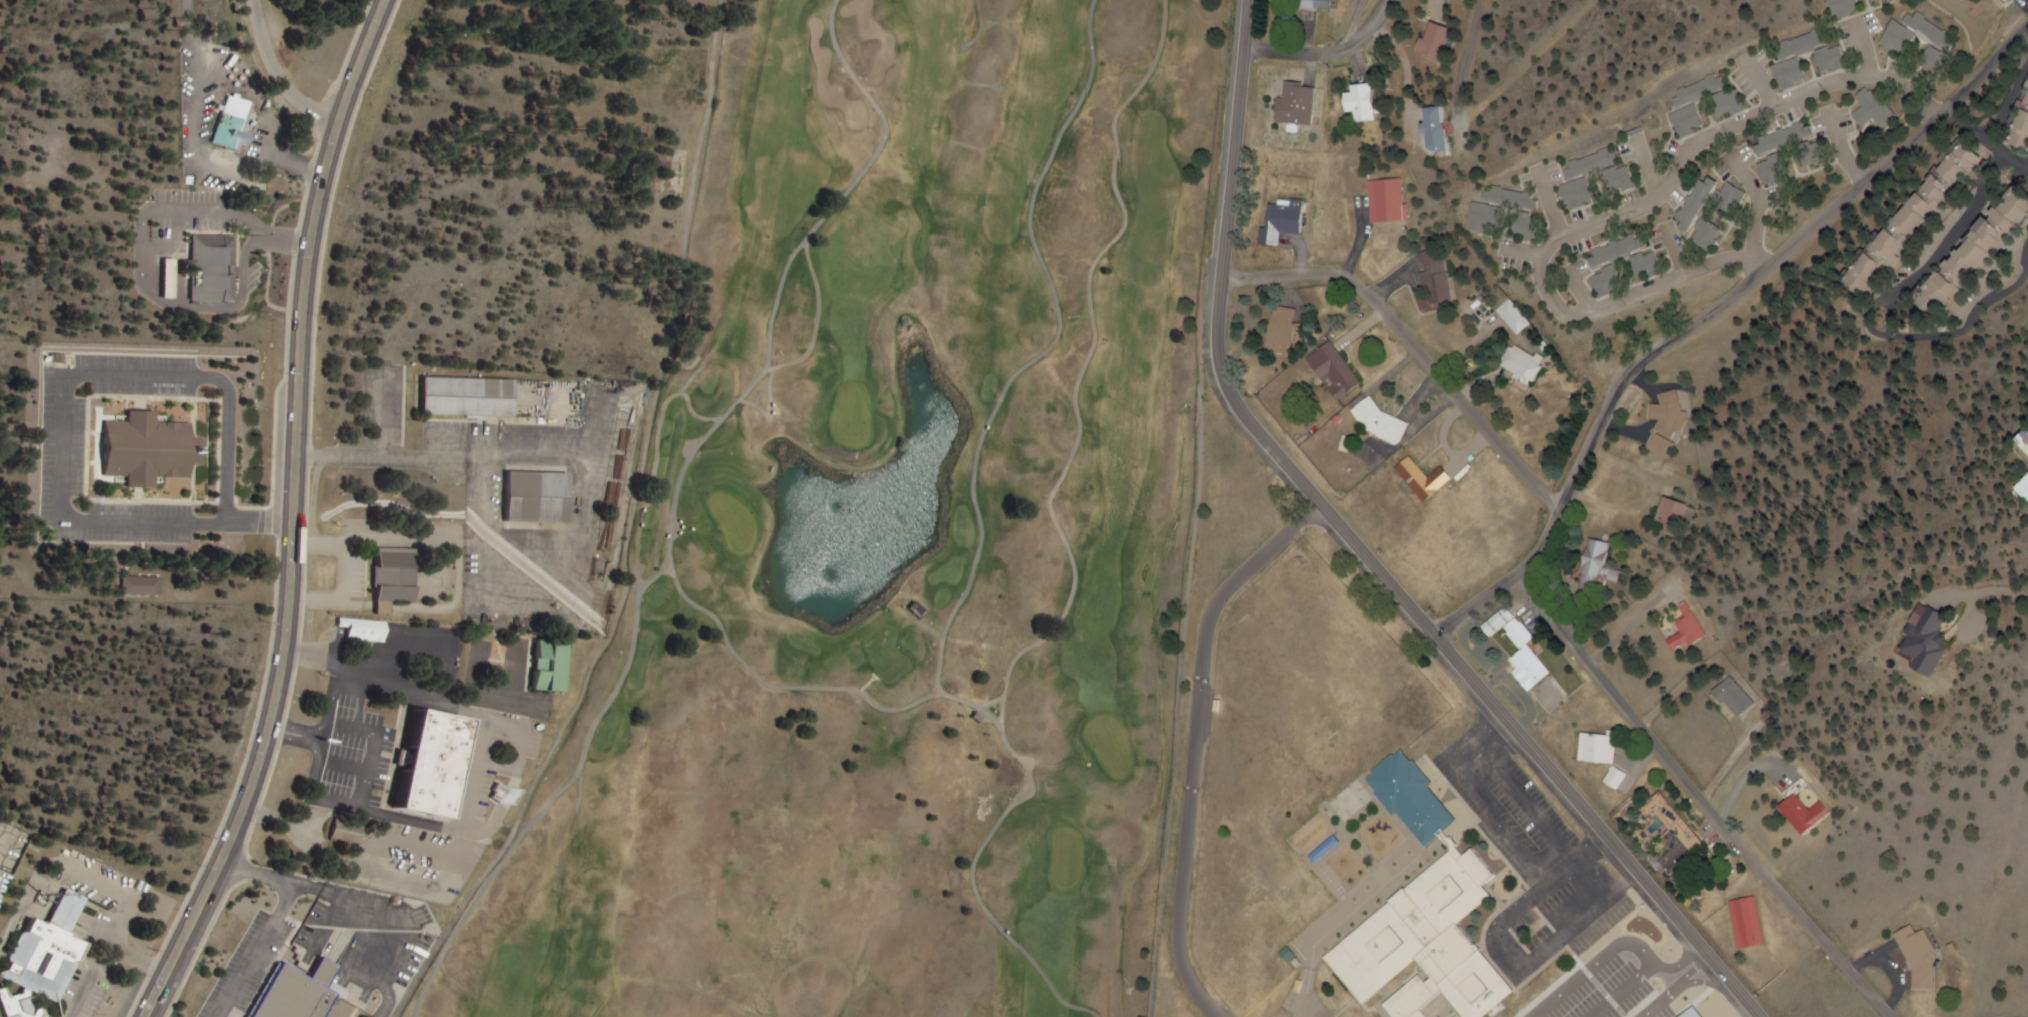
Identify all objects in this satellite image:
building: (2012, 0)
building: (1884, 1)
building: (1310, 4)
building: (1845, 7)
building: (1931, 30)
building: (1901, 38)
building: (1437, 40)
building: (1804, 43)
road: (1865, 47)
road: (1327, 51)
building: (1833, 59)
building: (1937, 63)
road: (1460, 69)
road: (278, 73)
building: (1792, 73)
road: (1759, 81)
road: (2009, 102)
building: (1298, 103)
building: (1363, 103)
building: (1694, 103)
building: (1729, 104)
building: (1877, 110)
building: (2019, 122)
building: (1440, 129)
building: (240, 135)
building: (1789, 139)
road: (1983, 139)
road: (1838, 147)
building: (1817, 154)
building: (1591, 163)
road: (1648, 168)
building: (1777, 169)
building: (1623, 179)
road: (851, 186)
building: (1581, 193)
building: (1514, 198)
building: (1734, 198)
building: (1387, 201)
road: (1549, 203)
road: (1761, 207)
road: (1632, 214)
building: (1489, 217)
building: (1907, 218)
building: (1284, 222)
building: (1533, 226)
building: (1973, 248)
building: (1626, 251)
building: (1654, 266)
building: (216, 267)
building: (1435, 277)
building: (172, 279)
building: (1615, 281)
road: (1873, 312)
road: (1708, 313)
building: (1517, 317)
building: (1289, 330)
road: (1414, 348)
road: (1044, 352)
road: (1220, 356)
building: (1527, 365)
building: (1338, 371)
building: (469, 397)
road: (771, 407)
building: (1662, 422)
building: (2023, 441)
building: (148, 449)
road: (657, 462)
building: (1427, 479)
building: (2021, 489)
building: (537, 497)
road: (1199, 508)
building: (1666, 512)
road: (294, 515)
road: (630, 533)
park: (895, 542)
road: (1067, 542)
building: (1598, 566)
building: (396, 578)
building: (139, 585)
road: (1984, 593)
building: (920, 610)
road: (637, 624)
building: (1678, 629)
building: (366, 631)
building: (1918, 642)
building: (1524, 649)
building: (551, 665)
road: (814, 689)
building: (1727, 697)
road: (988, 703)
road: (1198, 743)
building: (1602, 746)
building: (433, 763)
building: (1620, 776)
building: (508, 791)
road: (1700, 800)
road: (1602, 824)
building: (350, 830)
building: (1687, 845)
road: (1597, 878)
building: (1429, 919)
building: (1752, 922)
building: (46, 948)
building: (1918, 956)
park: (1183, 989)
building: (298, 994)
building: (1584, 1012)

